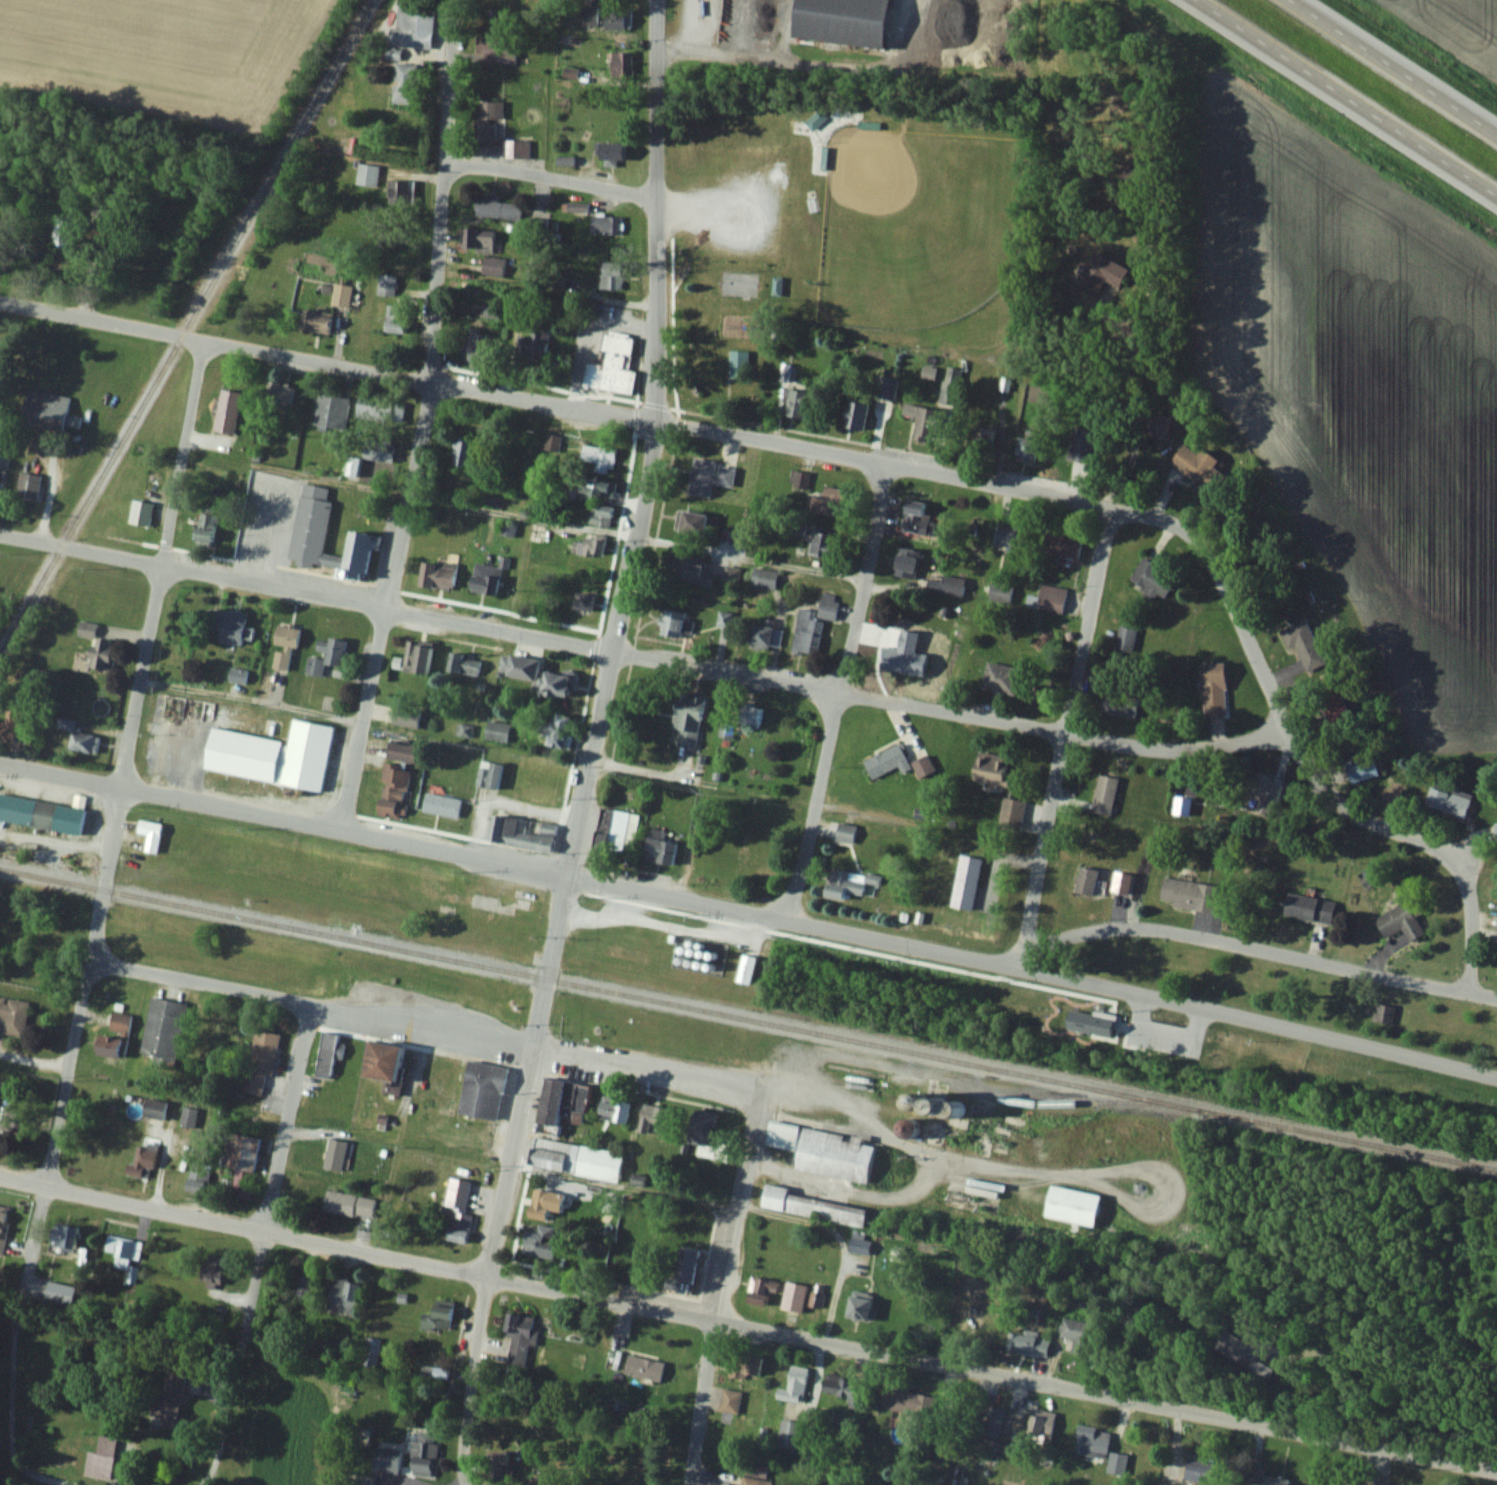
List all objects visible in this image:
building: (587, 15)
building: (841, 21)
building: (413, 25)
building: (484, 47)
building: (622, 63)
road: (1393, 67)
road: (450, 77)
building: (403, 83)
road: (1346, 98)
building: (488, 110)
building: (484, 132)
building: (517, 149)
building: (609, 151)
building: (564, 160)
building: (367, 175)
road: (550, 177)
building: (497, 208)
park: (911, 220)
building: (63, 222)
building: (605, 225)
building: (482, 249)
road: (437, 270)
building: (610, 277)
building: (341, 296)
building: (487, 309)
building: (395, 319)
building: (314, 321)
railway: (185, 324)
road: (653, 327)
building: (533, 342)
road: (214, 343)
building: (476, 346)
building: (611, 366)
building: (738, 369)
building: (951, 385)
building: (886, 387)
building: (279, 395)
building: (796, 404)
building: (48, 409)
building: (373, 410)
building: (226, 412)
road: (1137, 412)
building: (330, 413)
building: (855, 415)
building: (922, 419)
building: (1159, 424)
building: (980, 441)
building: (1082, 445)
building: (1028, 448)
building: (378, 450)
building: (462, 452)
road: (183, 453)
building: (3, 457)
building: (599, 457)
building: (1196, 467)
building: (709, 477)
building: (596, 486)
building: (27, 487)
building: (830, 501)
road: (1093, 502)
building: (140, 513)
building: (600, 515)
building: (312, 516)
building: (915, 518)
building: (691, 522)
building: (204, 529)
building: (507, 529)
building: (536, 533)
building: (1008, 536)
building: (822, 545)
building: (590, 546)
building: (905, 563)
building: (693, 570)
building: (731, 574)
building: (435, 576)
road: (866, 577)
building: (764, 578)
building: (1150, 578)
building: (945, 585)
building: (996, 592)
road: (307, 593)
building: (1047, 598)
building: (583, 602)
road: (388, 606)
building: (675, 623)
building: (813, 624)
building: (233, 627)
building: (765, 635)
building: (1125, 639)
building: (1303, 645)
building: (283, 646)
building: (97, 649)
building: (326, 658)
building: (416, 658)
building: (893, 658)
building: (463, 664)
building: (912, 665)
road: (141, 675)
building: (537, 675)
building: (1001, 679)
building: (1213, 689)
road: (838, 690)
road: (252, 699)
building: (1036, 699)
building: (1118, 705)
building: (1334, 710)
building: (750, 718)
building: (685, 726)
building: (498, 730)
building: (558, 731)
road: (1061, 735)
building: (82, 742)
road: (1173, 749)
building: (272, 755)
building: (886, 761)
road: (590, 764)
building: (922, 766)
building: (989, 769)
building: (1361, 769)
building: (489, 776)
building: (1263, 790)
building: (392, 791)
building: (1103, 795)
building: (1447, 802)
building: (441, 804)
road: (815, 806)
building: (43, 814)
road: (283, 816)
building: (1495, 827)
building: (614, 832)
building: (845, 832)
building: (520, 833)
building: (659, 851)
building: (1085, 882)
building: (852, 884)
building: (1121, 884)
building: (1188, 895)
road: (676, 899)
building: (1309, 909)
building: (1398, 922)
road: (890, 941)
road: (1251, 948)
road: (549, 963)
building: (745, 969)
road: (87, 985)
railway: (749, 1014)
building: (1382, 1014)
building: (13, 1015)
road: (1244, 1019)
building: (163, 1028)
road: (424, 1029)
building: (114, 1036)
building: (328, 1053)
road: (35, 1058)
building: (260, 1059)
building: (381, 1059)
building: (482, 1088)
building: (562, 1101)
building: (148, 1108)
building: (613, 1109)
building: (651, 1115)
building: (187, 1117)
road: (287, 1119)
building: (905, 1126)
building: (697, 1130)
building: (781, 1134)
building: (240, 1151)
road: (926, 1151)
building: (833, 1154)
building: (575, 1158)
building: (142, 1161)
building: (198, 1176)
road: (850, 1186)
building: (348, 1203)
building: (544, 1204)
building: (810, 1205)
building: (1072, 1205)
building: (458, 1210)
building: (3, 1224)
road: (242, 1226)
building: (62, 1235)
building: (538, 1244)
road: (487, 1266)
building: (211, 1268)
building: (682, 1271)
building: (303, 1285)
road: (714, 1288)
building: (758, 1289)
building: (342, 1294)
building: (793, 1296)
building: (816, 1299)
building: (858, 1307)
building: (437, 1316)
building: (1077, 1334)
building: (518, 1337)
building: (1028, 1343)
road: (12, 1344)
building: (369, 1351)
building: (1245, 1353)
road: (1389, 1361)
building: (748, 1366)
building: (643, 1367)
road: (235, 1368)
road: (991, 1373)
building: (796, 1382)
building: (844, 1389)
building: (730, 1400)
building: (909, 1402)
building: (168, 1403)
building: (947, 1409)
building: (992, 1420)
building: (1039, 1429)
building: (790, 1434)
building: (1091, 1441)
building: (424, 1453)
building: (103, 1457)
building: (386, 1460)
building: (1116, 1463)
building: (500, 1468)
building: (1198, 1470)
building: (1273, 1480)
building: (537, 1481)

